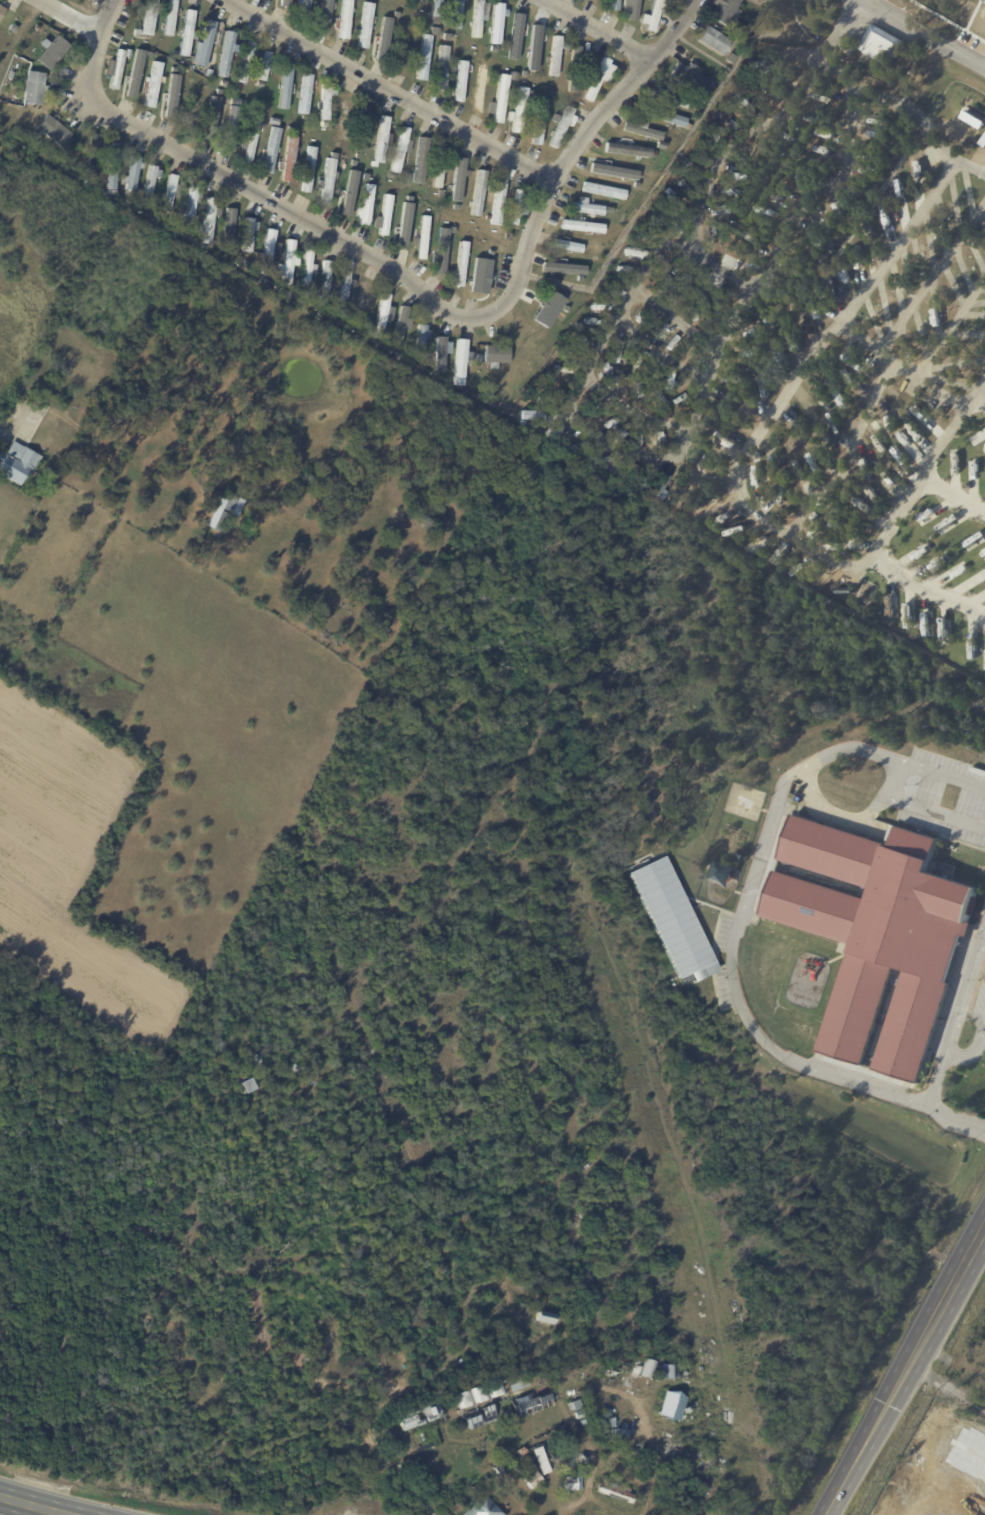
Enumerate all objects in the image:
building: (595, 0)
building: (420, 1)
building: (760, 1)
building: (286, 3)
building: (936, 4)
building: (612, 5)
building: (304, 7)
building: (437, 8)
building: (630, 9)
building: (2, 11)
building: (725, 11)
building: (456, 14)
building: (324, 15)
building: (652, 15)
road: (74, 17)
building: (149, 17)
building: (170, 18)
building: (477, 18)
building: (345, 19)
building: (445, 21)
building: (498, 23)
building: (366, 25)
building: (13, 28)
building: (737, 28)
road: (833, 29)
road: (593, 31)
building: (437, 32)
building: (188, 34)
road: (924, 34)
building: (514, 35)
building: (383, 39)
building: (712, 40)
building: (204, 46)
building: (882, 46)
building: (404, 47)
building: (535, 48)
building: (54, 53)
building: (227, 54)
building: (555, 54)
building: (424, 58)
building: (246, 63)
building: (189, 65)
building: (263, 66)
building: (116, 68)
building: (443, 69)
building: (574, 70)
building: (209, 71)
building: (11, 74)
building: (135, 74)
building: (690, 78)
building: (596, 80)
building: (192, 81)
building: (461, 81)
building: (260, 83)
building: (153, 84)
building: (223, 84)
building: (478, 85)
building: (285, 86)
road: (389, 88)
building: (35, 89)
building: (304, 94)
building: (171, 95)
building: (501, 96)
building: (671, 97)
building: (235, 101)
building: (740, 102)
building: (325, 103)
building: (520, 110)
building: (663, 115)
building: (191, 116)
building: (211, 117)
building: (345, 117)
building: (556, 118)
building: (973, 119)
building: (274, 121)
building: (731, 122)
road: (924, 122)
building: (539, 123)
building: (324, 124)
building: (562, 126)
building: (230, 129)
building: (289, 129)
building: (642, 129)
building: (54, 130)
road: (146, 134)
building: (251, 138)
building: (361, 140)
building: (983, 141)
building: (381, 142)
building: (337, 143)
building: (657, 143)
road: (736, 143)
building: (270, 150)
building: (400, 150)
building: (626, 150)
building: (93, 153)
building: (419, 158)
building: (288, 159)
road: (570, 159)
building: (112, 169)
building: (309, 169)
building: (352, 169)
building: (916, 170)
building: (607, 171)
building: (132, 175)
building: (436, 175)
building: (391, 176)
building: (457, 177)
building: (351, 178)
building: (365, 178)
building: (801, 178)
building: (328, 179)
building: (149, 185)
building: (899, 188)
building: (603, 191)
building: (169, 194)
building: (477, 195)
building: (346, 200)
building: (498, 203)
building: (128, 204)
building: (193, 204)
building: (365, 206)
building: (515, 208)
building: (586, 209)
building: (718, 210)
building: (683, 212)
building: (384, 215)
building: (208, 222)
building: (227, 222)
building: (403, 223)
building: (581, 227)
building: (887, 227)
building: (249, 234)
road: (782, 236)
building: (507, 237)
building: (422, 238)
building: (603, 240)
building: (567, 246)
building: (929, 247)
building: (633, 251)
building: (269, 252)
building: (442, 252)
building: (241, 260)
building: (731, 262)
road: (383, 263)
building: (288, 264)
building: (461, 264)
building: (562, 266)
building: (674, 268)
building: (621, 269)
building: (482, 270)
road: (722, 272)
building: (307, 273)
road: (931, 275)
building: (265, 282)
building: (325, 284)
building: (344, 292)
road: (629, 296)
building: (362, 304)
building: (755, 307)
building: (814, 309)
building: (538, 314)
building: (381, 318)
road: (674, 320)
building: (586, 321)
building: (754, 323)
building: (400, 324)
road: (950, 326)
building: (556, 328)
building: (735, 338)
building: (421, 340)
building: (793, 341)
building: (615, 350)
building: (440, 351)
road: (657, 354)
building: (778, 354)
building: (496, 355)
building: (478, 359)
building: (459, 360)
building: (855, 364)
building: (79, 365)
road: (902, 367)
building: (668, 378)
building: (730, 378)
building: (847, 380)
road: (788, 387)
building: (762, 389)
road: (980, 398)
building: (678, 399)
building: (839, 402)
building: (720, 403)
building: (750, 407)
road: (631, 409)
building: (706, 419)
building: (833, 421)
building: (888, 423)
building: (934, 428)
building: (636, 436)
building: (72, 439)
building: (726, 439)
building: (904, 441)
building: (769, 444)
road: (613, 446)
building: (29, 451)
road: (848, 454)
building: (898, 457)
road: (927, 465)
building: (799, 466)
building: (115, 476)
building: (887, 478)
building: (757, 485)
building: (660, 486)
building: (872, 493)
road: (954, 493)
building: (224, 516)
building: (813, 518)
building: (832, 518)
building: (945, 525)
building: (107, 527)
building: (831, 548)
building: (955, 571)
road: (929, 586)
road: (890, 777)
parking lot: (944, 796)
road: (932, 810)
road: (835, 814)
crop: (67, 863)
building: (671, 919)
road: (737, 925)
building: (879, 936)
parking lot: (984, 970)
road: (964, 992)
parking lot: (978, 1006)
road: (974, 1049)
building: (259, 1060)
building: (307, 1071)
road: (935, 1083)
building: (246, 1085)
building: (252, 1087)
road: (509, 1301)
building: (545, 1316)
park: (369, 1337)
building: (748, 1356)
building: (665, 1370)
road: (904, 1370)
building: (475, 1382)
building: (520, 1384)
road: (946, 1384)
building: (496, 1389)
road: (629, 1395)
building: (529, 1403)
building: (576, 1405)
building: (674, 1405)
building: (476, 1411)
building: (578, 1415)
building: (422, 1416)
building: (619, 1426)
building: (533, 1444)
road: (627, 1446)
road: (381, 1455)
building: (565, 1457)
building: (539, 1459)
building: (528, 1475)
road: (933, 1482)
building: (573, 1483)
building: (616, 1491)
road: (34, 1505)
building: (483, 1506)
building: (458, 1509)

